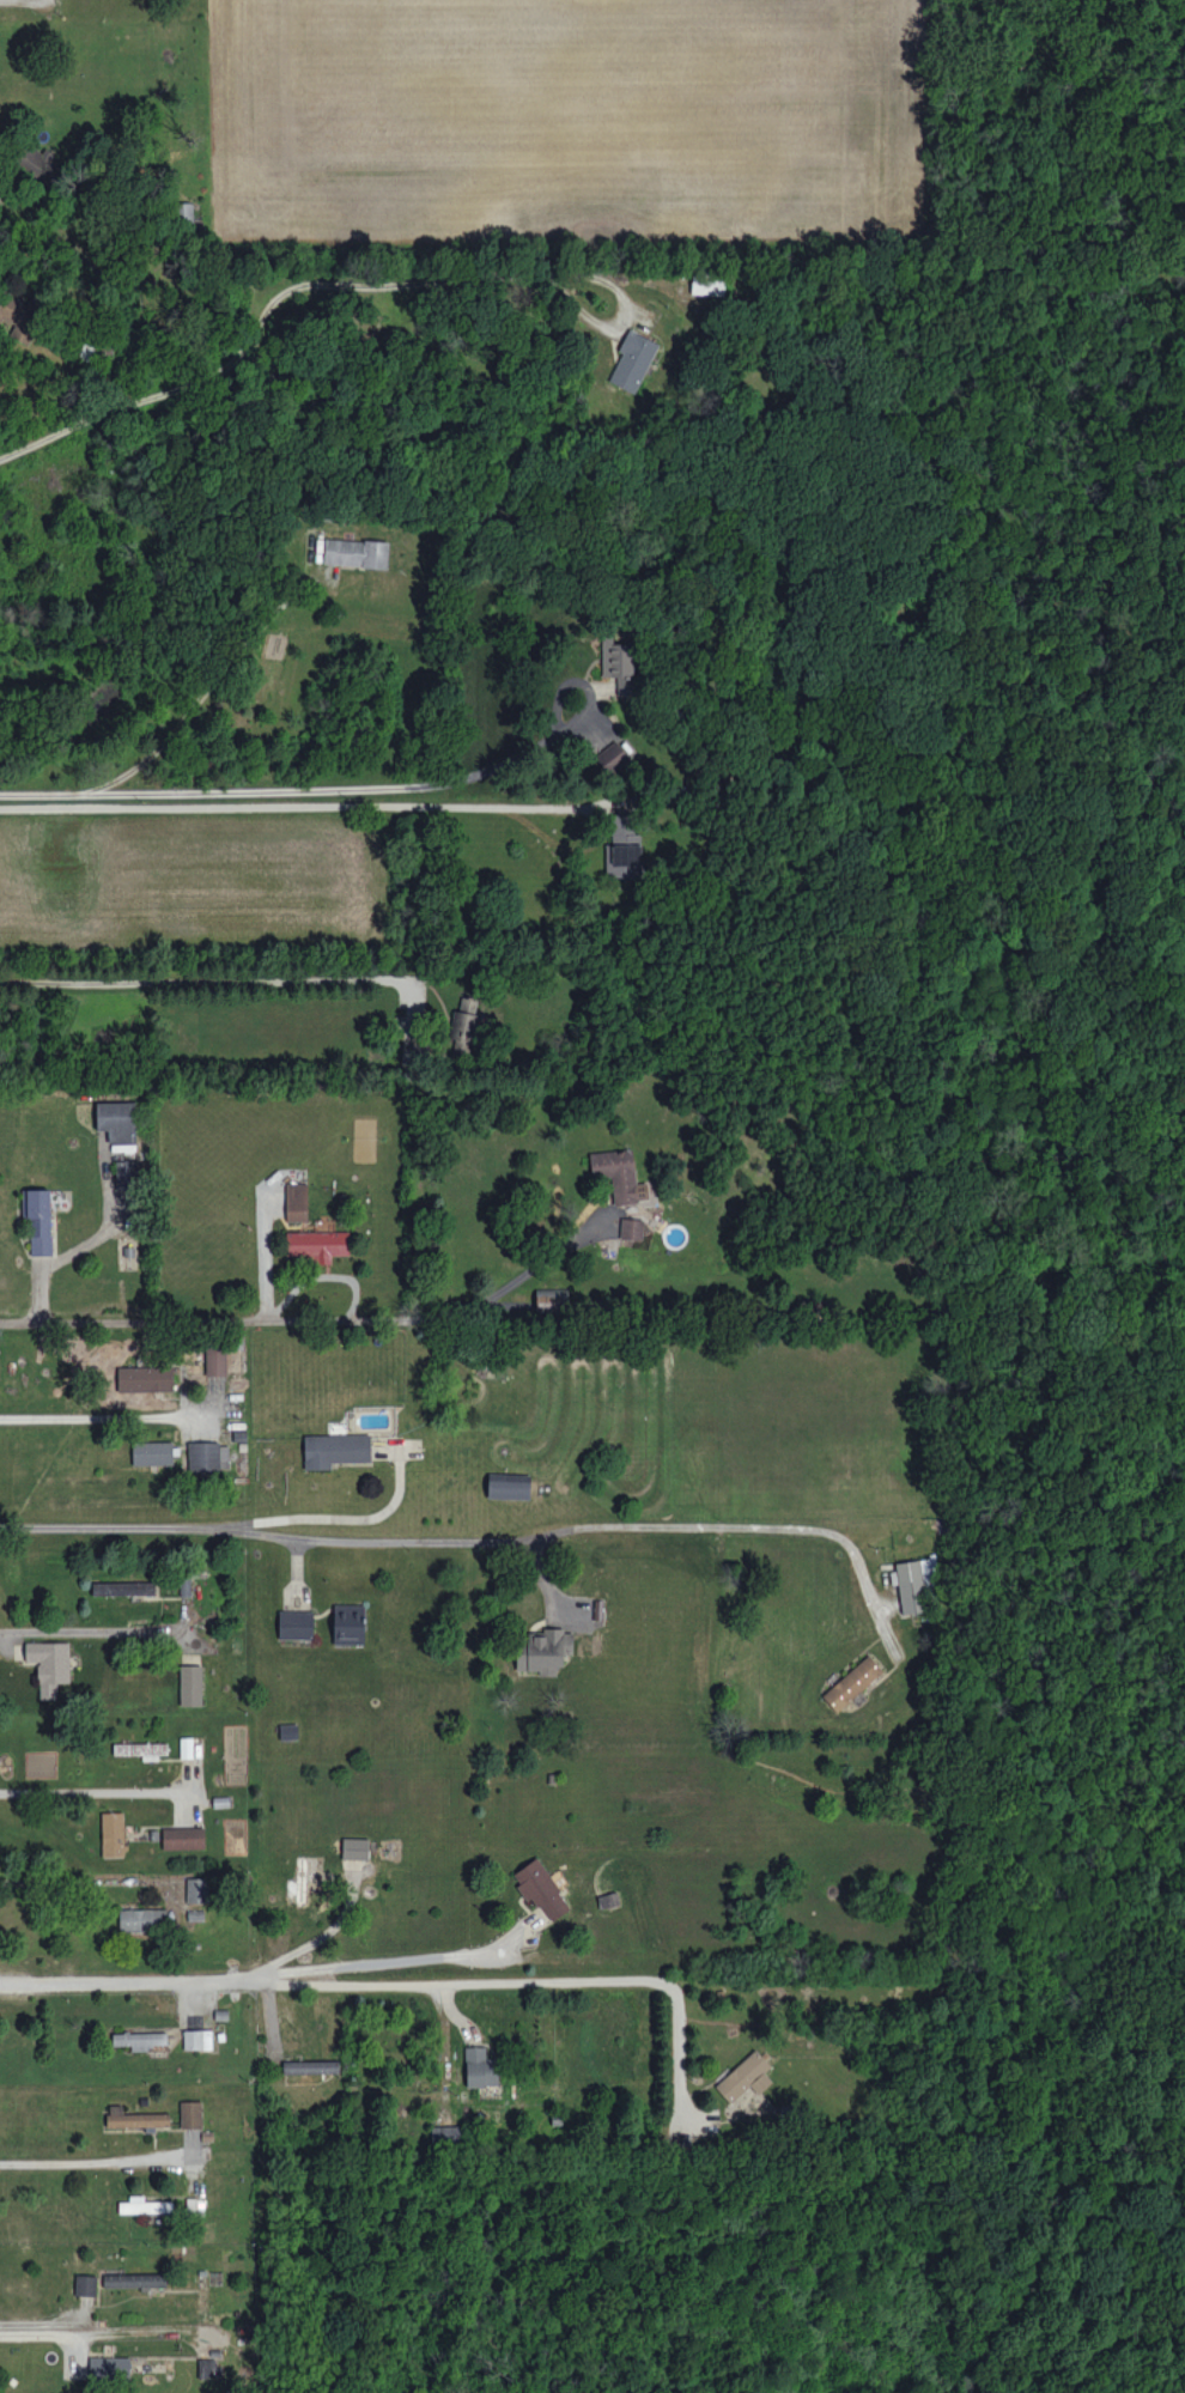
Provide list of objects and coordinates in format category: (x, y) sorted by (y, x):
building: (707, 284)
building: (19, 317)
road: (262, 317)
road: (625, 317)
building: (632, 360)
building: (357, 552)
building: (616, 657)
building: (625, 687)
building: (613, 757)
road: (305, 789)
road: (299, 806)
building: (624, 846)
road: (206, 980)
building: (464, 1019)
building: (414, 1050)
building: (117, 1120)
building: (127, 1173)
building: (619, 1174)
building: (297, 1202)
building: (38, 1220)
building: (631, 1228)
building: (626, 1239)
building: (317, 1245)
road: (354, 1287)
building: (548, 1299)
road: (134, 1322)
building: (215, 1360)
building: (146, 1378)
building: (335, 1450)
building: (152, 1452)
building: (208, 1456)
building: (509, 1486)
road: (478, 1541)
building: (912, 1583)
building: (123, 1587)
building: (350, 1623)
building: (296, 1624)
road: (86, 1630)
building: (542, 1651)
building: (49, 1665)
building: (852, 1683)
building: (190, 1684)
building: (121, 1749)
road: (91, 1786)
building: (113, 1834)
building: (183, 1838)
building: (355, 1848)
road: (93, 1879)
building: (196, 1889)
building: (542, 1890)
building: (142, 1920)
road: (376, 1958)
road: (395, 1979)
building: (197, 2039)
building: (139, 2040)
building: (310, 2066)
building: (480, 2067)
building: (745, 2077)
building: (192, 2114)
building: (135, 2118)
building: (446, 2136)
road: (78, 2161)
building: (144, 2205)
building: (134, 2279)
building: (85, 2285)
road: (89, 2326)
building: (203, 2365)
building: (109, 2368)

